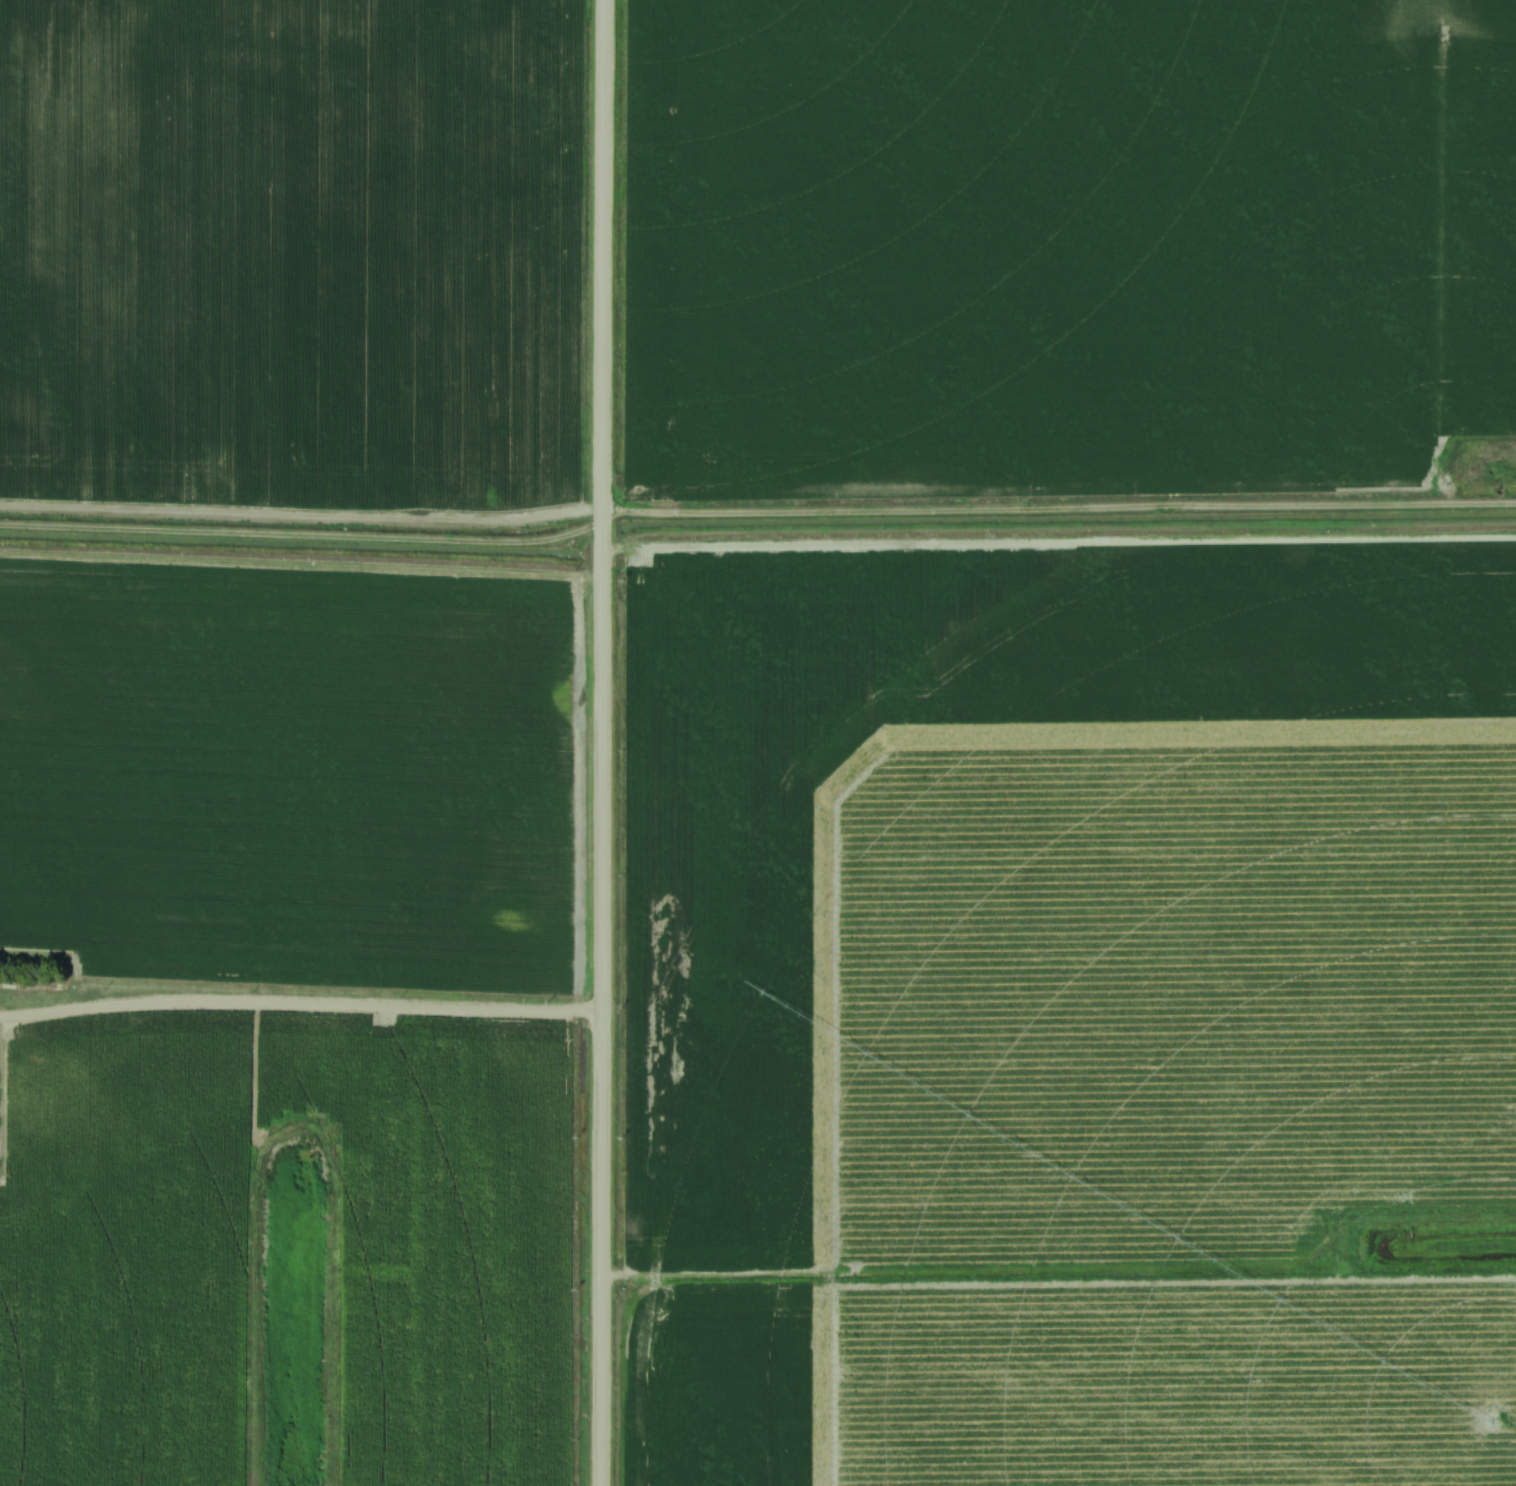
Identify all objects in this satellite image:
crop: (1024, 240)
crop: (293, 250)
road: (593, 742)
crop: (289, 767)
road: (294, 1005)

